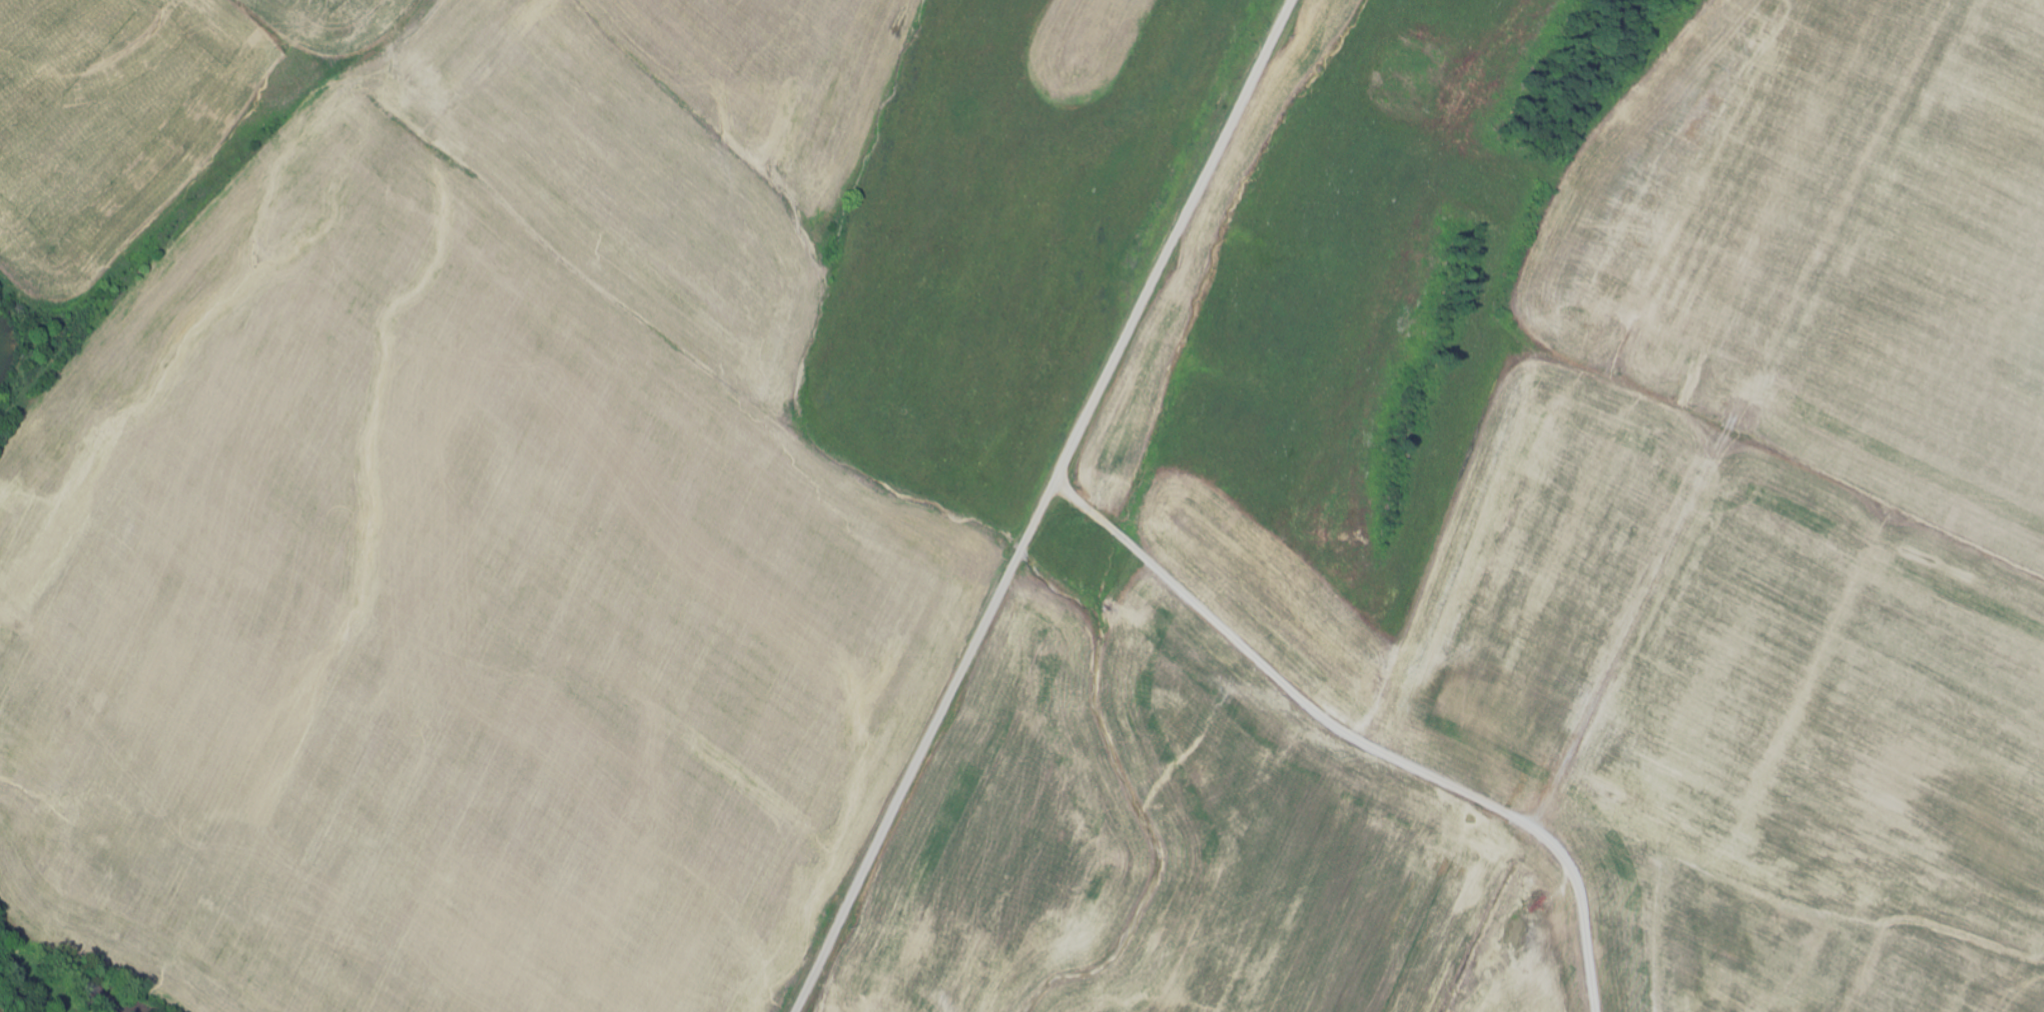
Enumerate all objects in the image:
road: (1615, 393)
road: (1045, 505)

